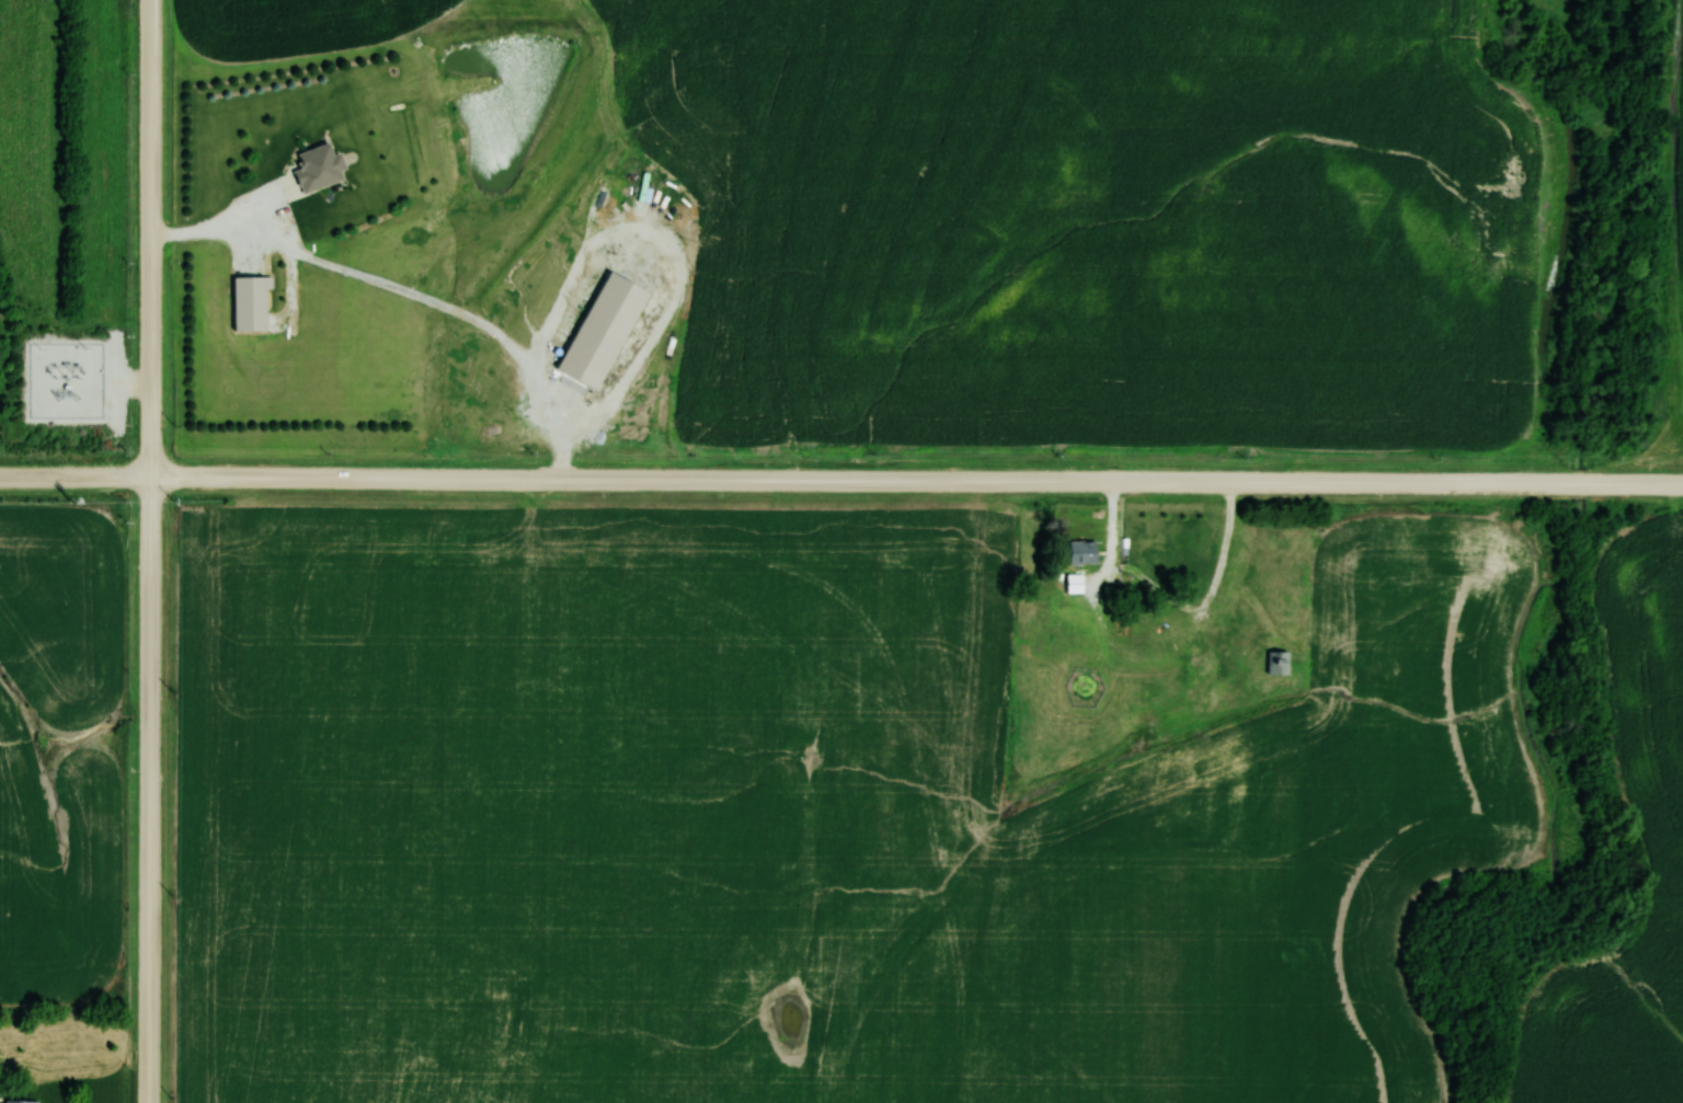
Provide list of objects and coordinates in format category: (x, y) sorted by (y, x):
building: (317, 169)
road: (408, 292)
building: (249, 302)
power substation: (64, 379)
road: (841, 480)
road: (151, 551)
building: (1080, 551)
building: (1276, 663)
building: (18, 1101)

